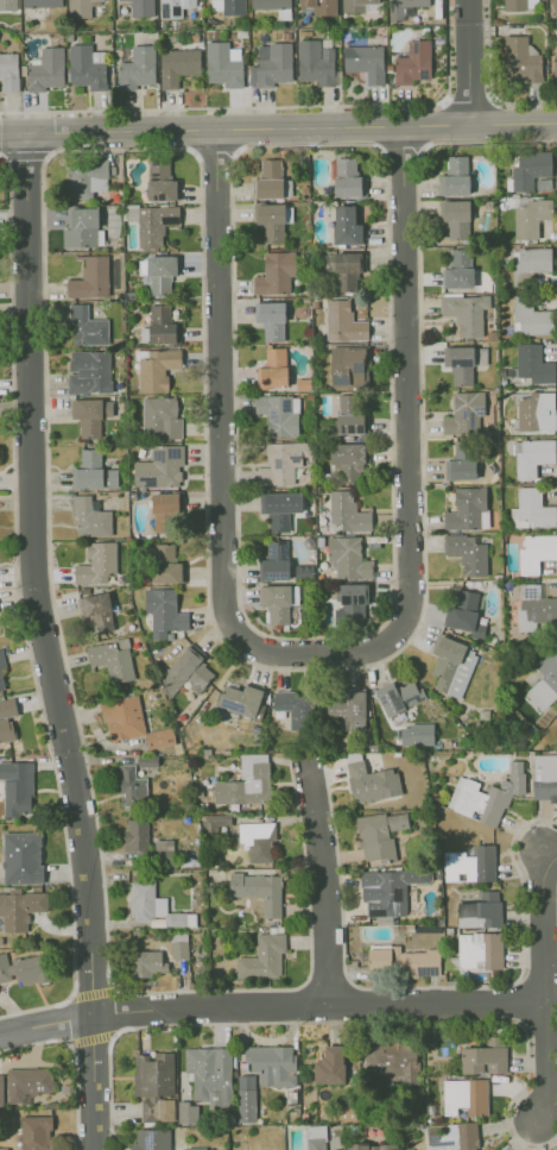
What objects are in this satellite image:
building: (552, 1)
building: (40, 2)
building: (270, 4)
building: (520, 4)
building: (7, 5)
building: (226, 6)
building: (319, 6)
building: (355, 6)
building: (141, 7)
building: (173, 7)
building: (404, 7)
building: (80, 8)
building: (556, 57)
building: (521, 61)
building: (315, 62)
building: (365, 62)
building: (413, 62)
building: (223, 63)
road: (468, 63)
building: (271, 64)
building: (86, 65)
building: (177, 65)
building: (139, 67)
building: (46, 69)
building: (8, 71)
road: (488, 81)
road: (278, 128)
building: (530, 169)
building: (347, 176)
building: (455, 176)
building: (86, 178)
building: (268, 180)
building: (160, 182)
building: (455, 218)
building: (530, 218)
building: (270, 221)
building: (151, 222)
building: (346, 225)
building: (82, 227)
building: (528, 263)
building: (458, 269)
building: (341, 270)
building: (276, 272)
building: (160, 274)
building: (90, 278)
building: (466, 312)
building: (530, 318)
building: (271, 320)
building: (343, 321)
building: (160, 325)
building: (87, 326)
building: (532, 363)
building: (460, 364)
building: (347, 366)
building: (157, 367)
building: (272, 369)
building: (89, 371)
road: (406, 383)
building: (536, 410)
building: (350, 413)
building: (464, 413)
building: (279, 414)
building: (90, 415)
building: (160, 417)
building: (532, 455)
building: (281, 461)
building: (346, 461)
building: (460, 461)
building: (159, 467)
building: (93, 471)
road: (223, 472)
building: (280, 508)
building: (533, 508)
building: (467, 509)
building: (165, 511)
building: (348, 511)
building: (90, 516)
building: (537, 551)
building: (467, 553)
building: (348, 557)
building: (274, 561)
building: (96, 563)
building: (165, 564)
building: (278, 601)
building: (352, 604)
building: (534, 607)
building: (96, 610)
building: (164, 610)
building: (463, 612)
road: (52, 642)
building: (112, 659)
building: (1, 660)
building: (451, 665)
building: (186, 670)
building: (544, 681)
building: (1, 683)
building: (398, 696)
building: (241, 700)
building: (295, 708)
building: (346, 709)
building: (122, 717)
building: (6, 718)
building: (416, 734)
building: (160, 737)
building: (544, 777)
building: (246, 781)
building: (369, 781)
building: (17, 786)
building: (131, 786)
building: (487, 794)
building: (379, 834)
building: (135, 835)
building: (257, 841)
building: (21, 857)
building: (470, 863)
road: (325, 886)
building: (259, 891)
building: (388, 891)
building: (153, 905)
building: (20, 909)
building: (480, 911)
road: (542, 925)
building: (480, 950)
building: (262, 956)
building: (405, 961)
building: (147, 963)
building: (24, 969)
road: (90, 993)
road: (268, 1004)
road: (90, 1039)
building: (486, 1056)
building: (390, 1060)
road: (544, 1060)
road: (75, 1061)
building: (272, 1064)
building: (329, 1066)
building: (153, 1074)
building: (210, 1074)
building: (27, 1082)
building: (0, 1089)
building: (464, 1095)
building: (246, 1098)
building: (157, 1108)
building: (186, 1112)
building: (34, 1132)
building: (467, 1136)
building: (315, 1137)
building: (151, 1139)
building: (374, 1146)
building: (195, 1148)
building: (2, 1149)

